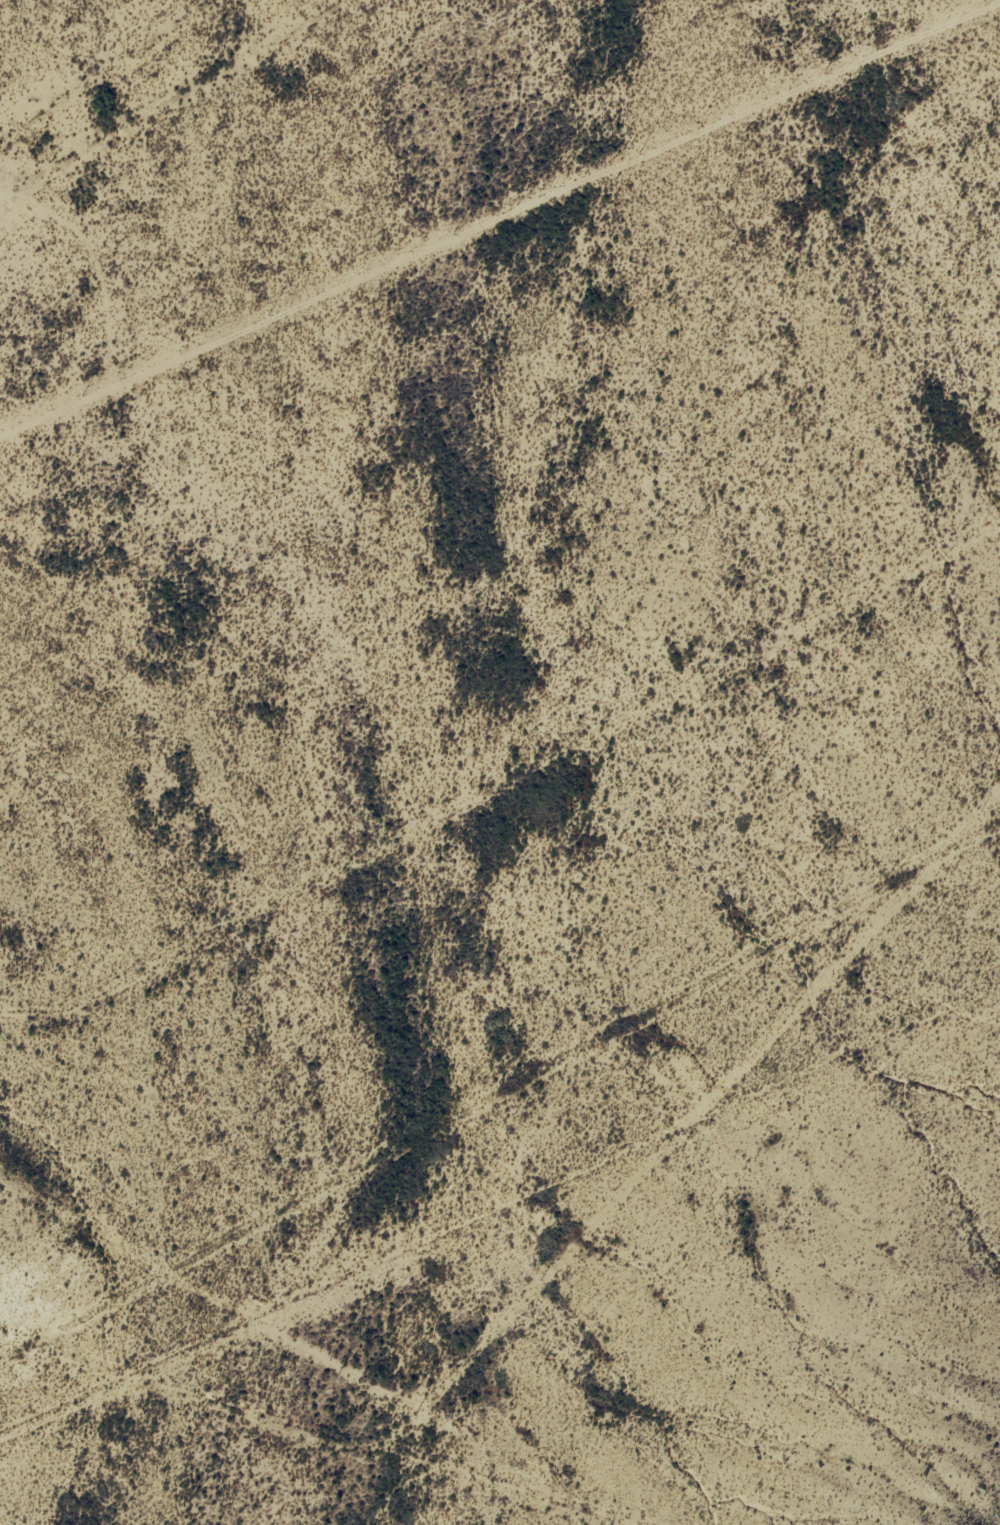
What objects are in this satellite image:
power tower: (823, 73)
power tower: (638, 154)
power tower: (453, 235)
power tower: (268, 315)
power tower: (82, 396)

